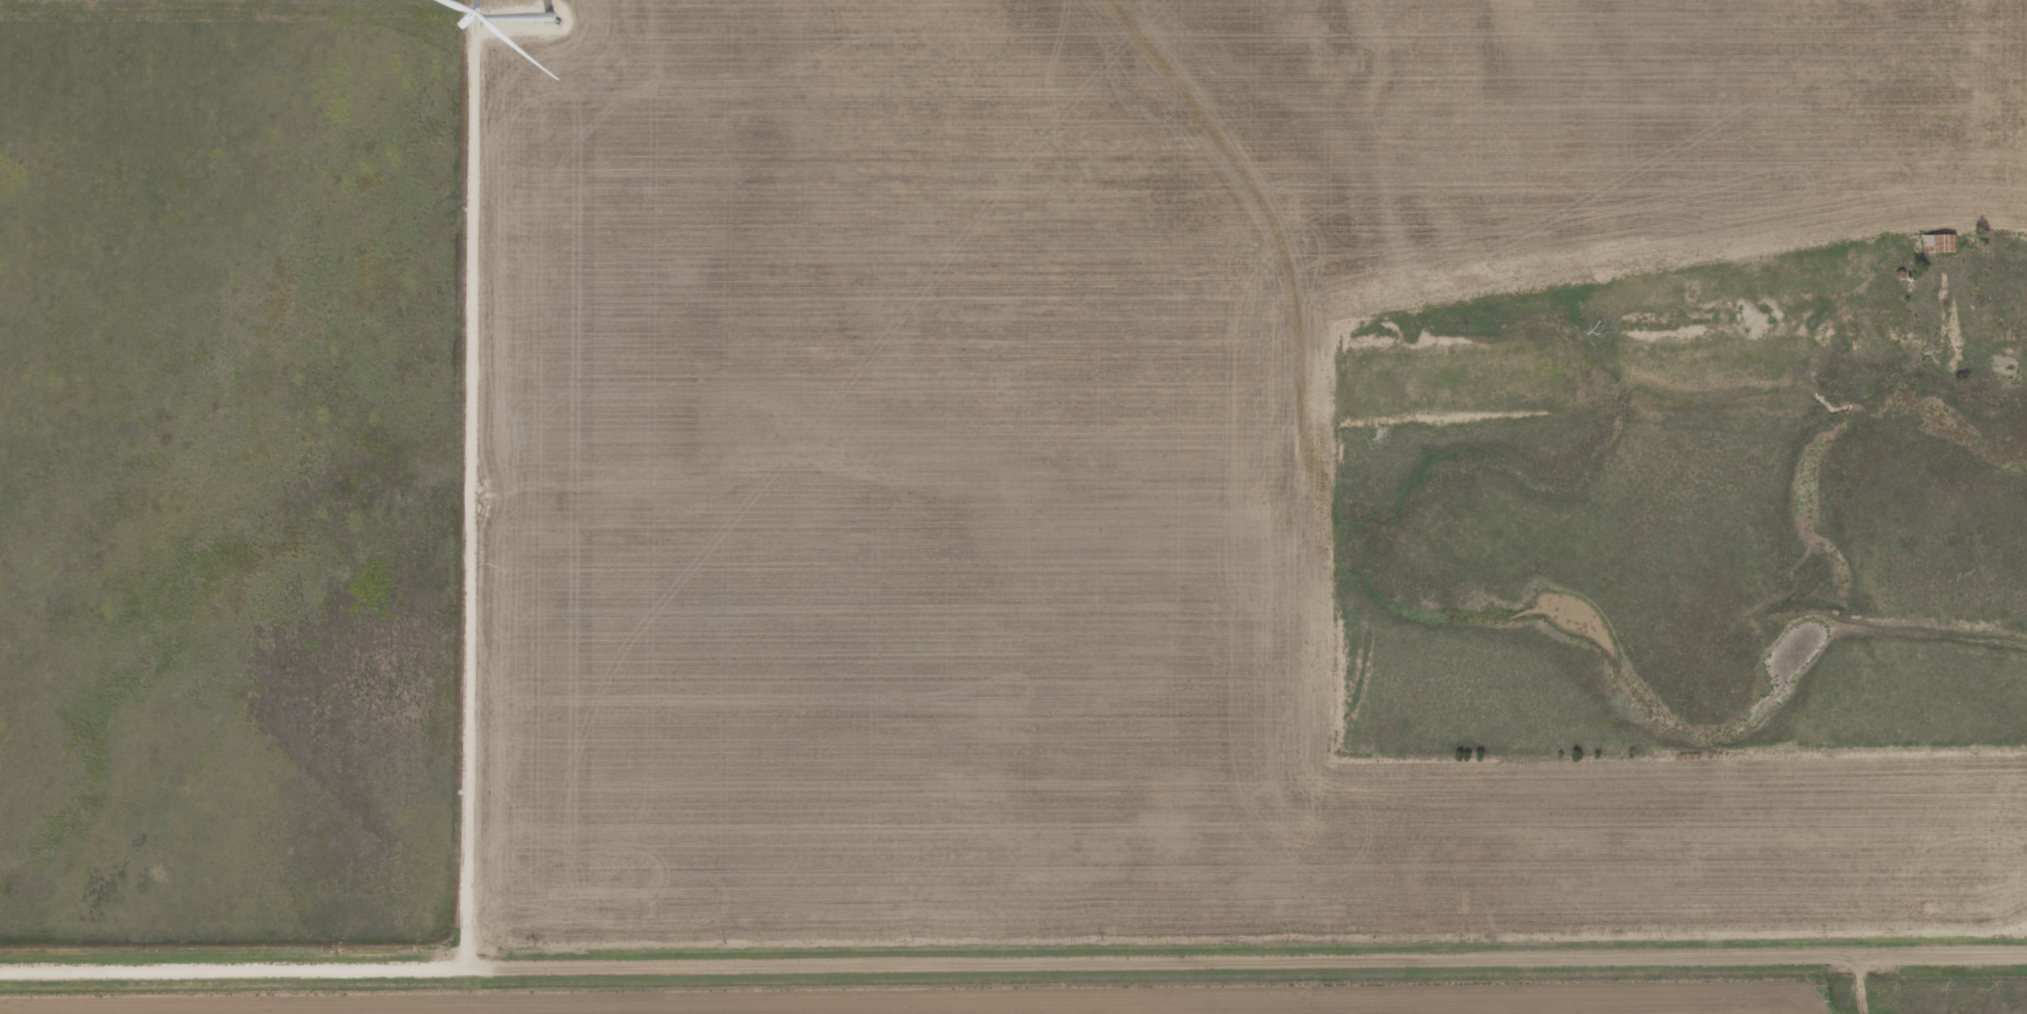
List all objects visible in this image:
wind turbine: (548, 21)
road: (1013, 959)

